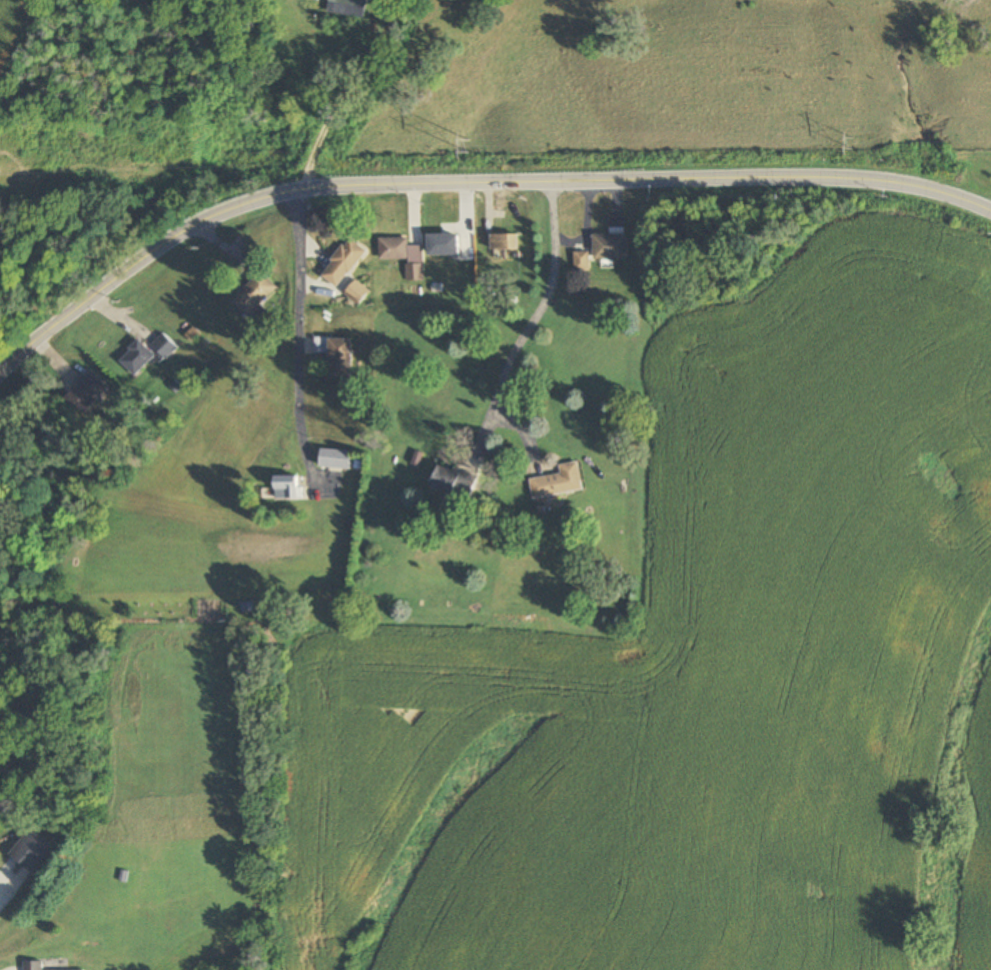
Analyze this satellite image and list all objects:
building: (349, 8)
crop: (8, 24)
power tower: (848, 143)
power tower: (463, 144)
road: (469, 179)
building: (610, 242)
building: (448, 245)
building: (403, 255)
building: (342, 262)
building: (355, 293)
building: (253, 294)
road: (521, 324)
road: (297, 341)
building: (163, 347)
building: (339, 357)
building: (136, 358)
building: (86, 393)
road: (479, 432)
building: (334, 459)
building: (454, 482)
building: (557, 482)
building: (285, 487)
building: (325, 598)
crop: (708, 673)
building: (30, 850)
building: (32, 965)

